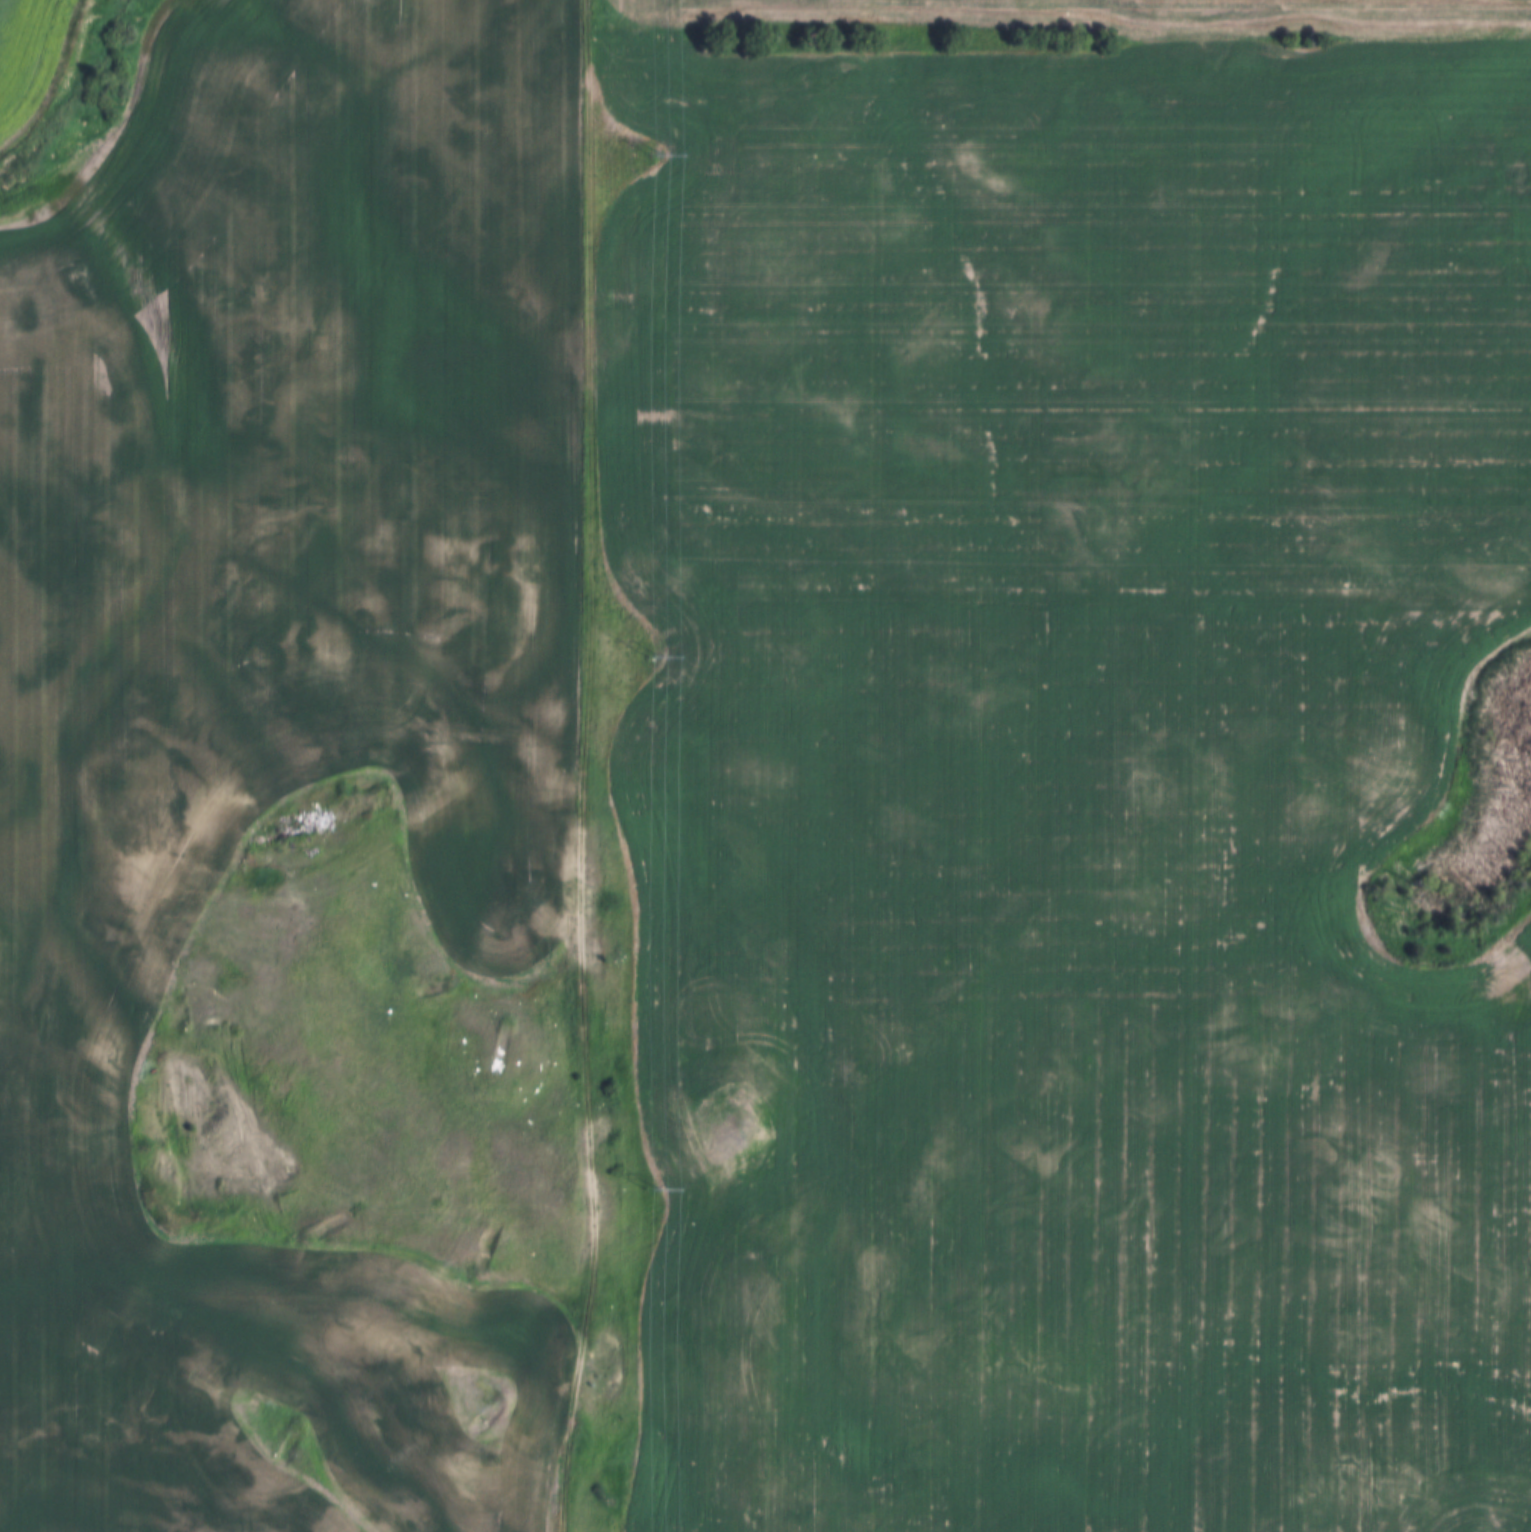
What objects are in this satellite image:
power tower: (653, 156)
power tower: (653, 659)
road: (586, 767)
power tower: (650, 1189)

